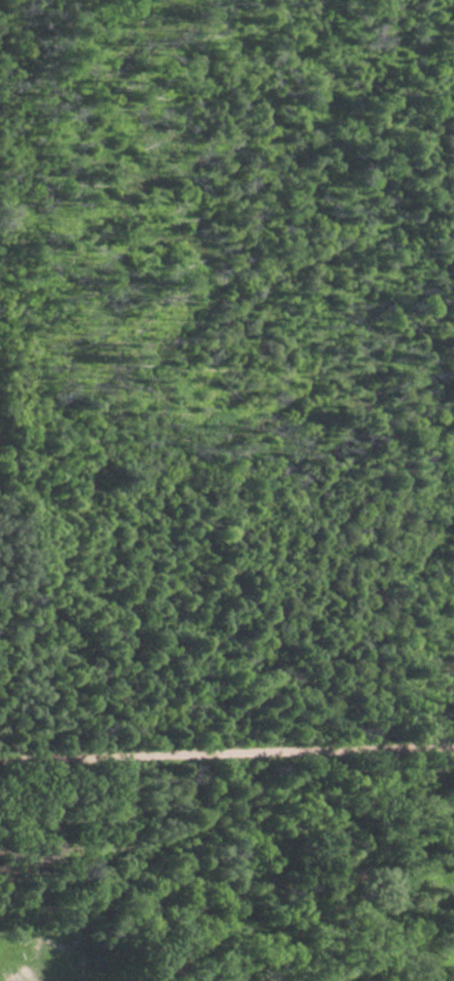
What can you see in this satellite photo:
road: (227, 761)

